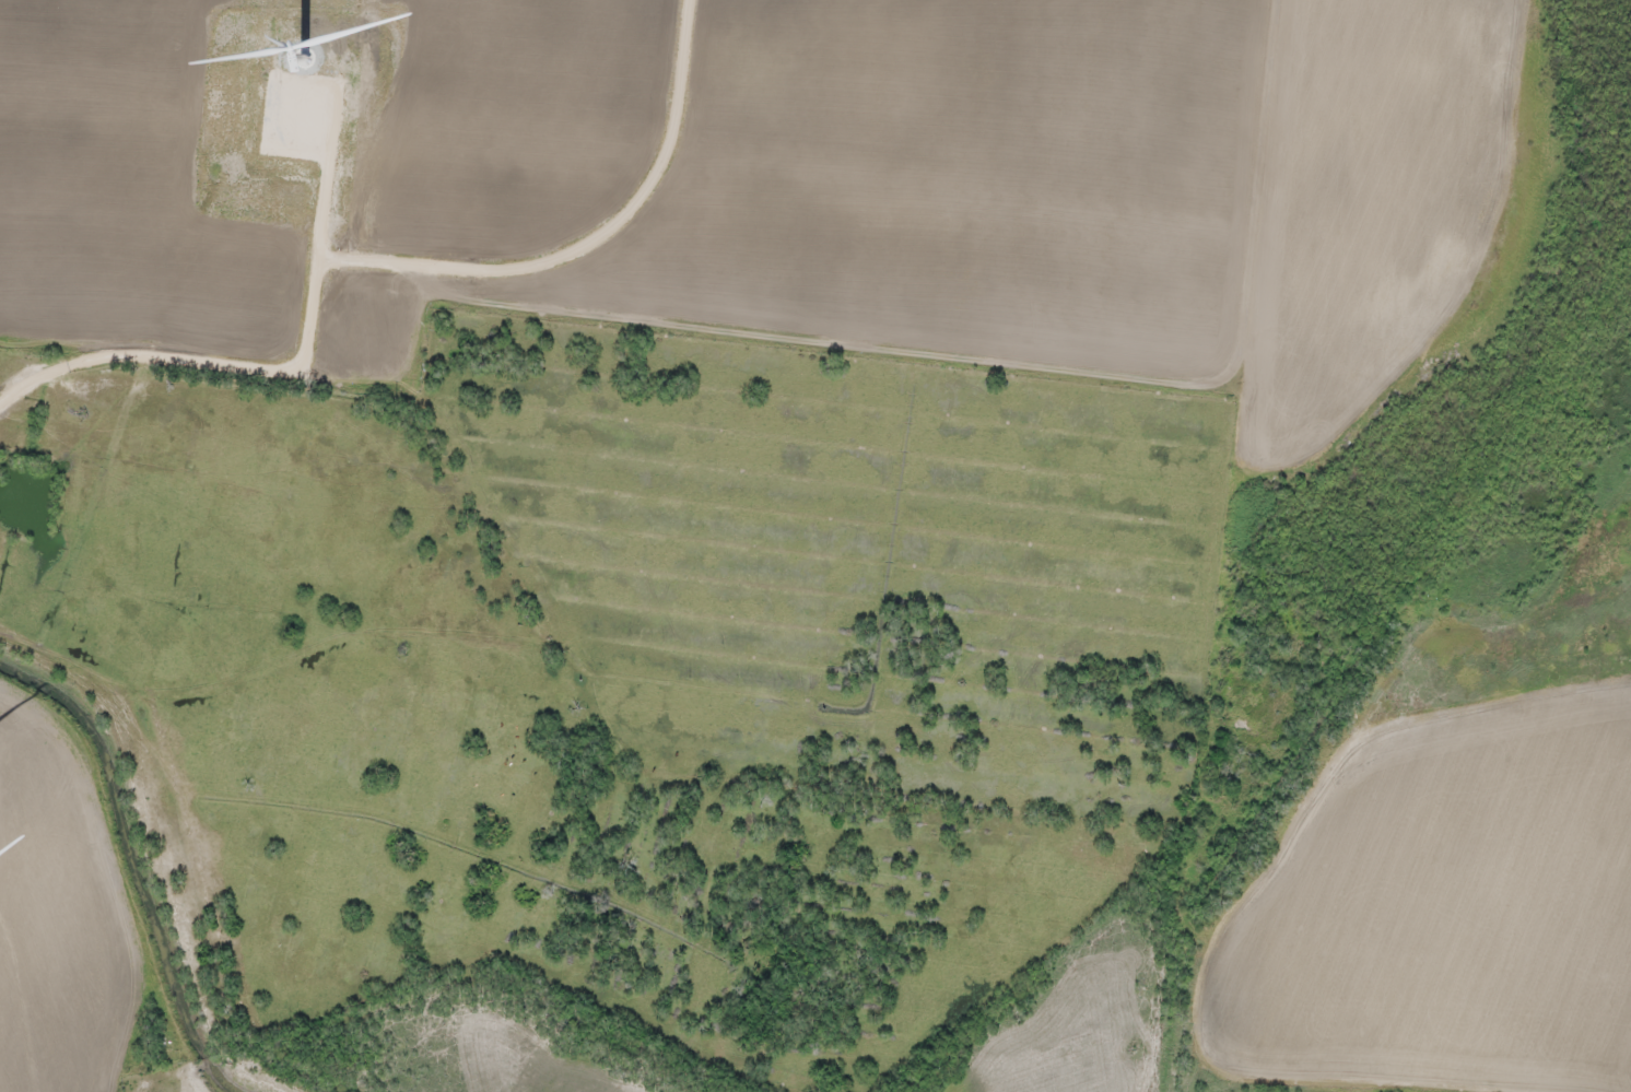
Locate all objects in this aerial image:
wind turbine: (301, 44)

